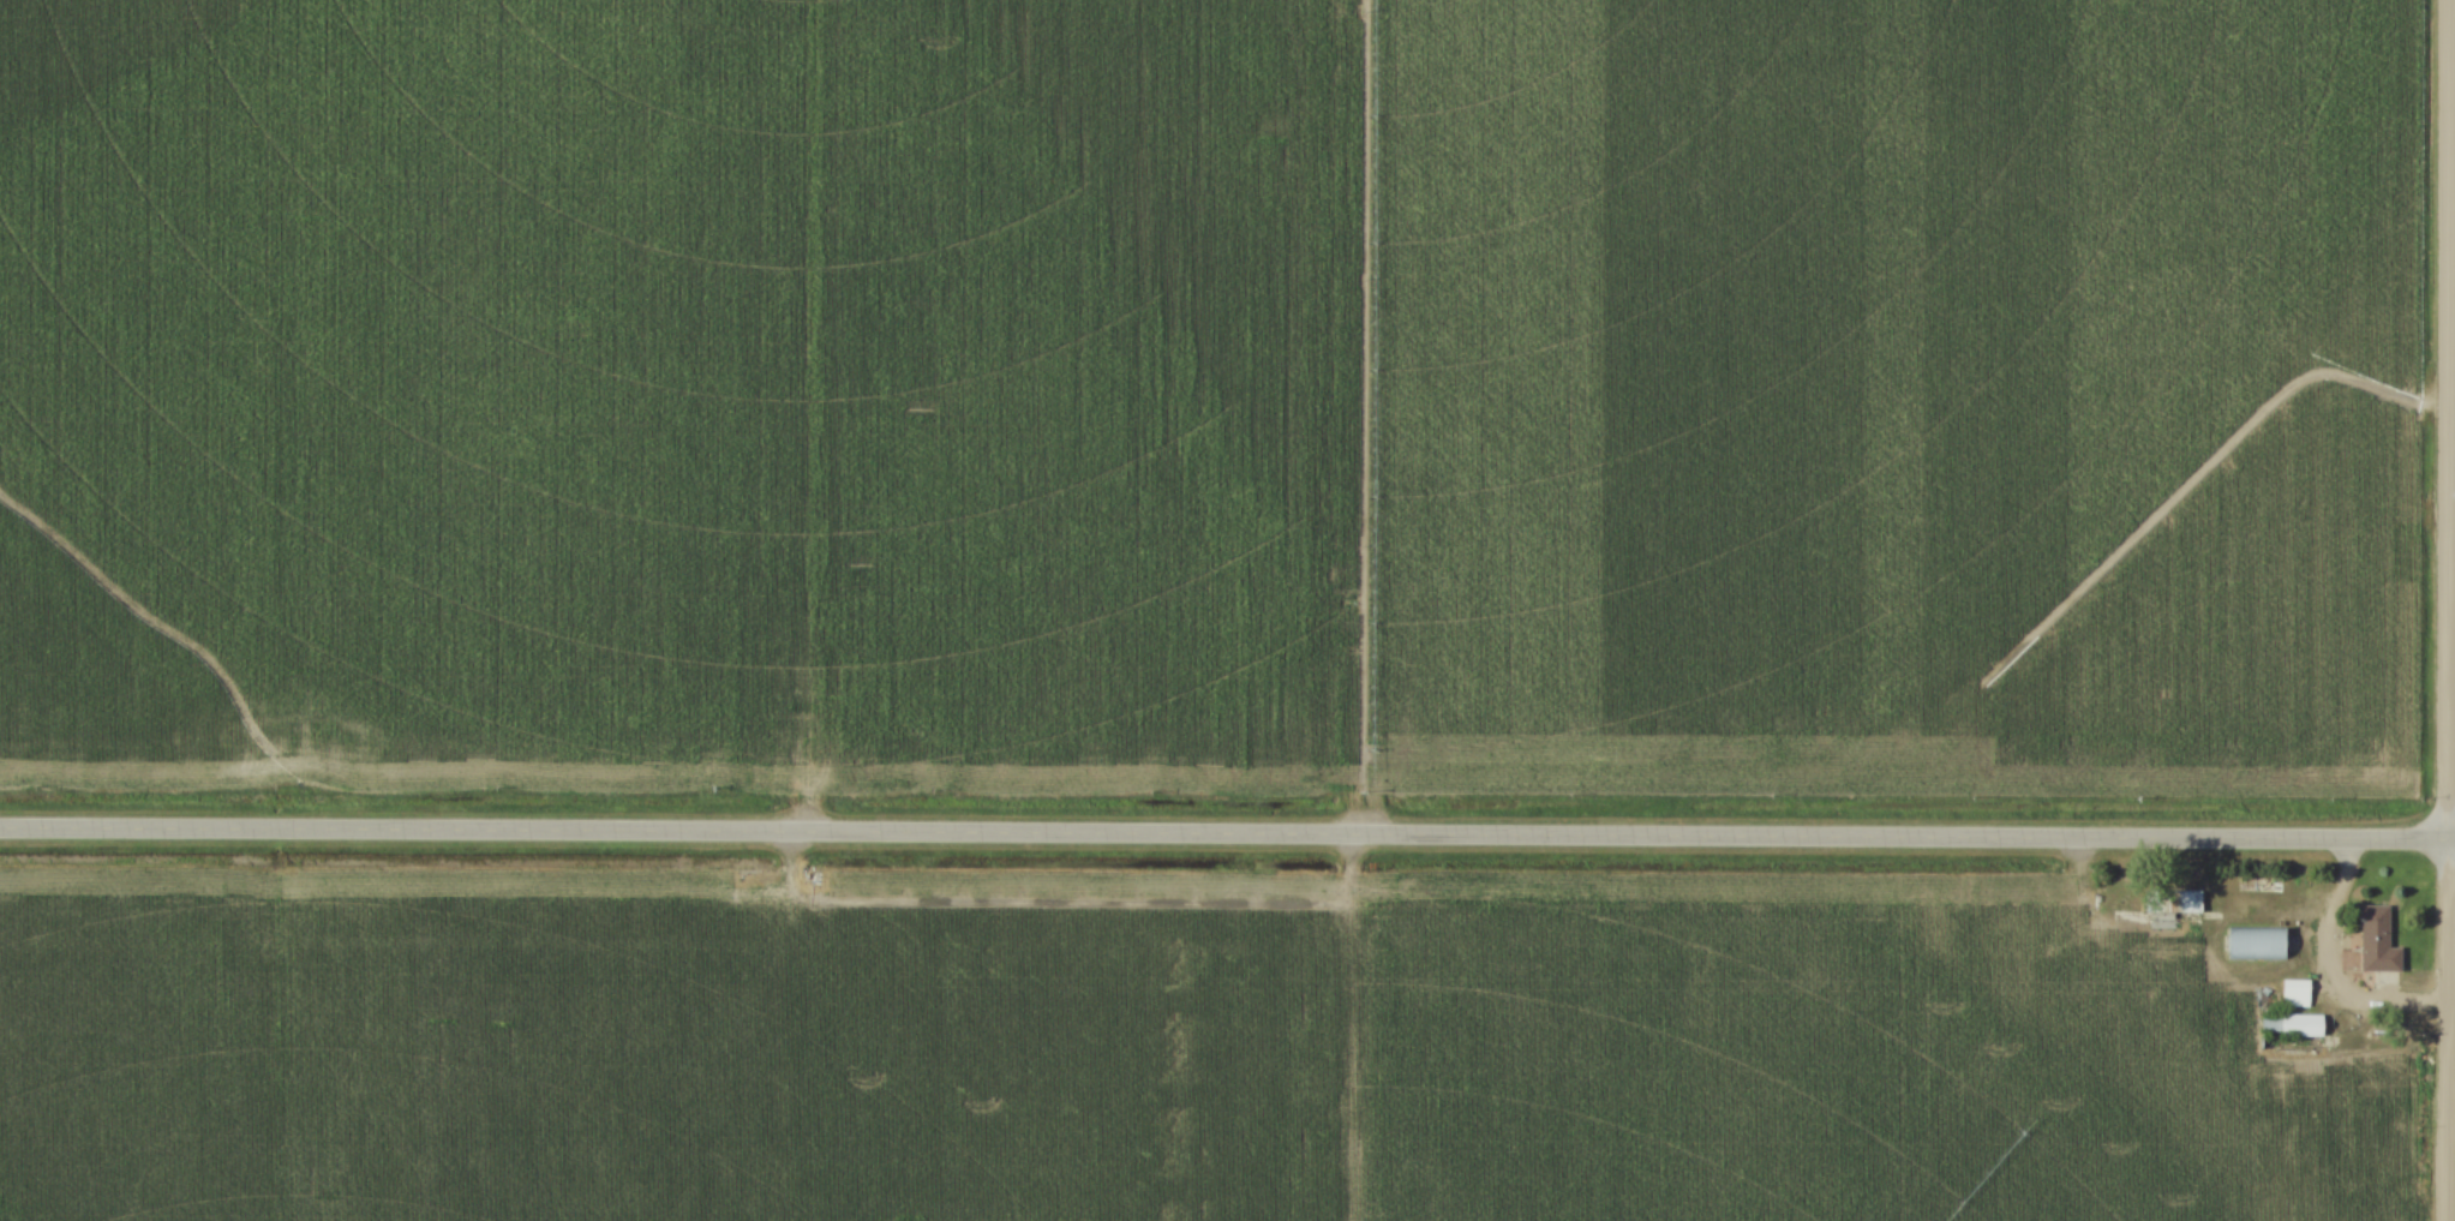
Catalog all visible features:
crop: (1217, 391)
road: (2445, 610)
road: (1227, 832)
building: (2169, 899)
building: (2251, 941)
building: (2376, 941)
road: (2323, 965)
building: (2293, 989)
building: (2289, 1022)
crop: (1145, 1051)

